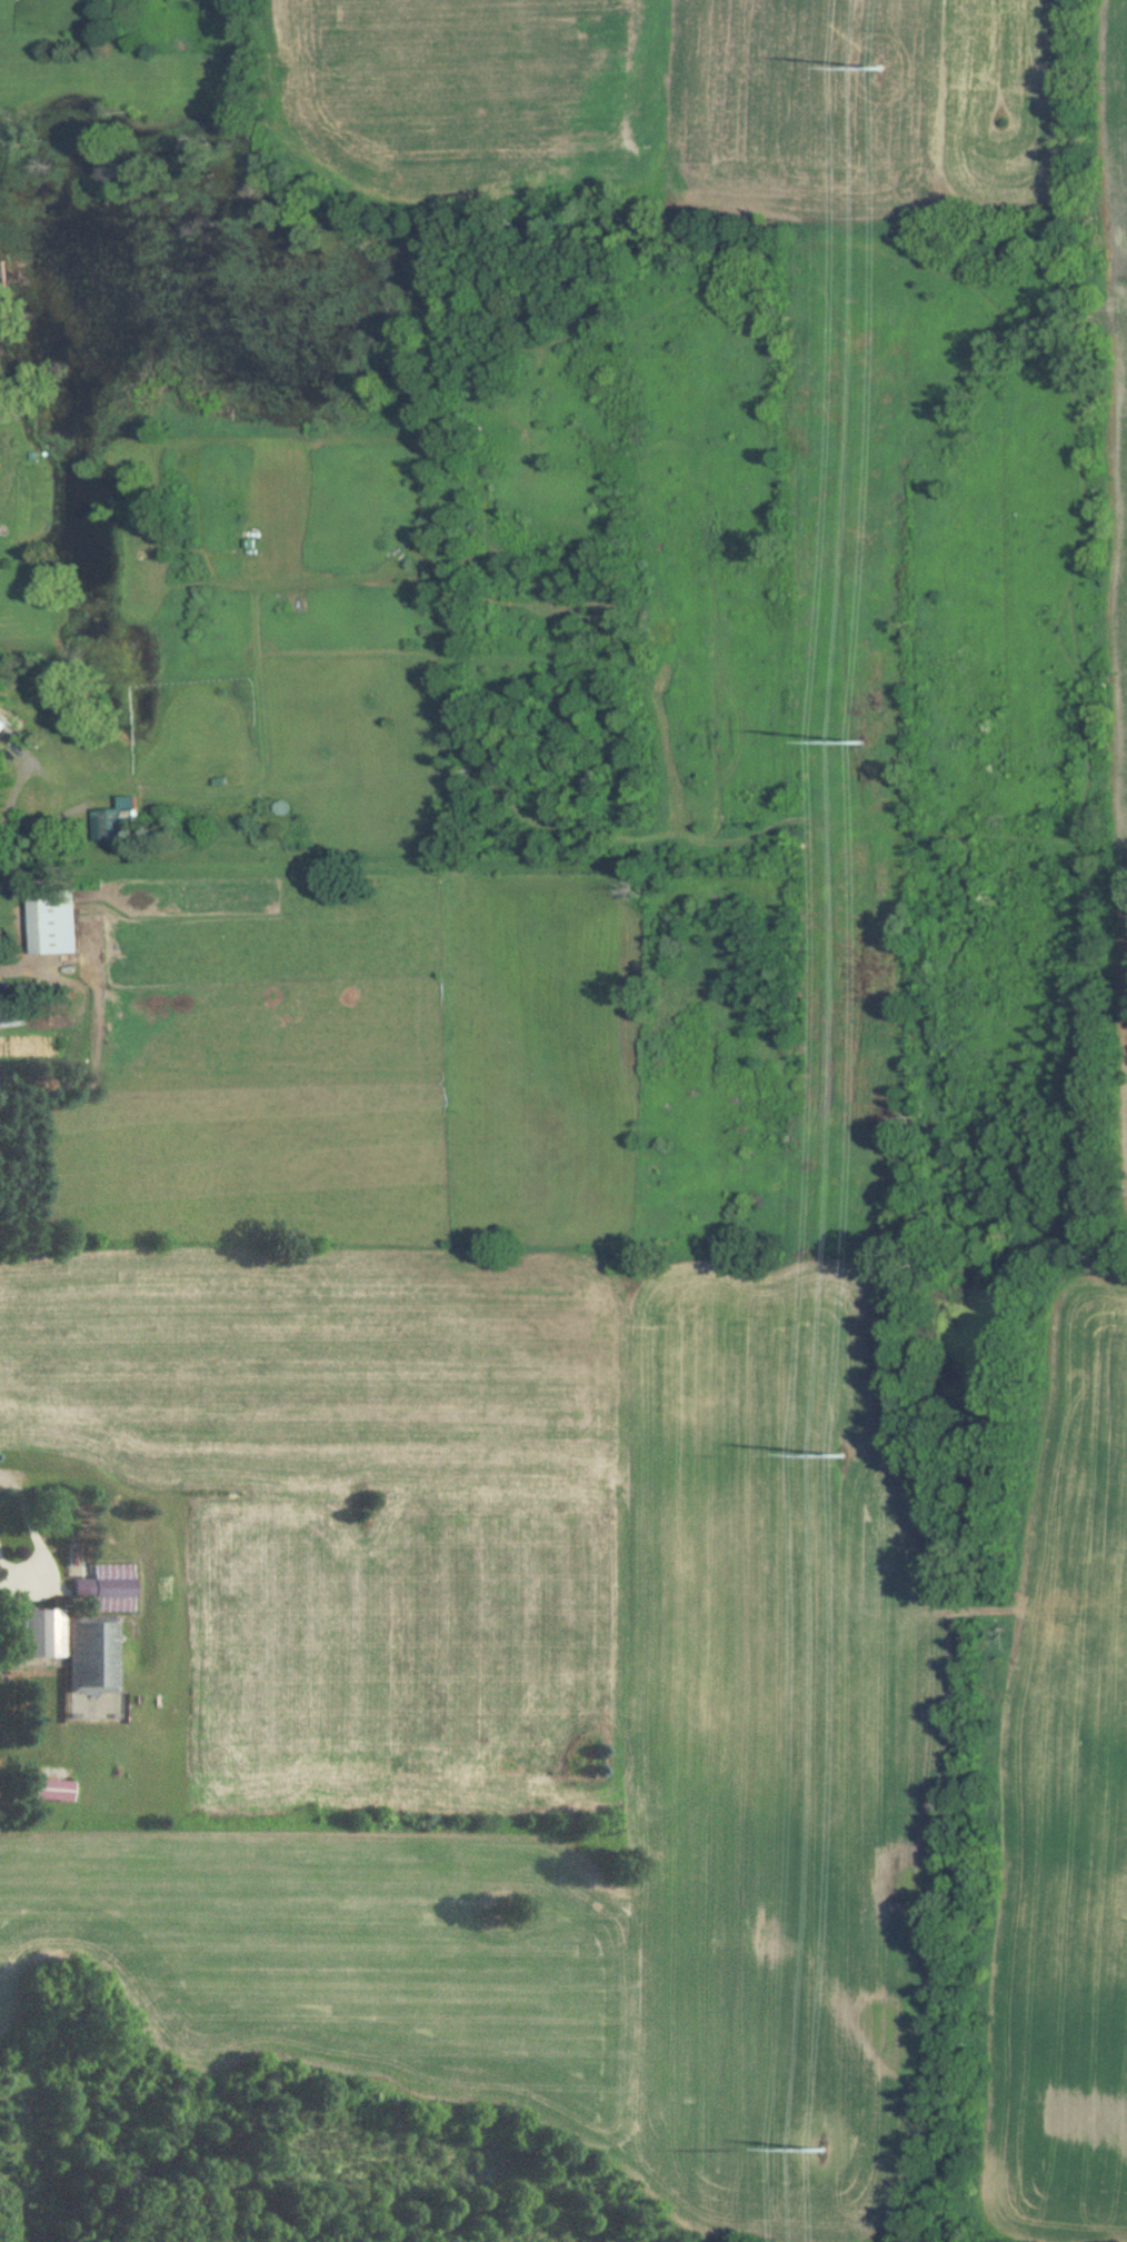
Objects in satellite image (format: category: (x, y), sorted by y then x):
power tower: (879, 67)
building: (3, 276)
building: (8, 727)
power tower: (861, 740)
road: (47, 779)
building: (110, 824)
building: (53, 923)
power tower: (845, 1454)
building: (41, 1634)
building: (92, 1667)
building: (53, 1791)
power tower: (826, 2150)

